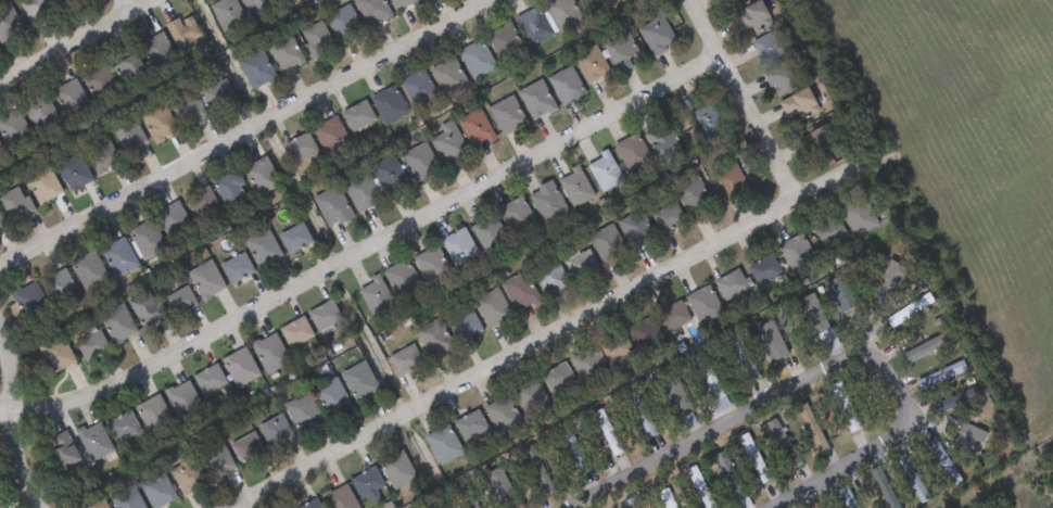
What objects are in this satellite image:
building: (620, 0)
building: (63, 2)
building: (284, 2)
building: (586, 2)
building: (739, 2)
building: (403, 3)
road: (130, 7)
building: (257, 7)
building: (37, 11)
building: (372, 11)
building: (563, 13)
building: (227, 14)
building: (754, 17)
building: (8, 24)
building: (344, 25)
building: (533, 26)
building: (657, 35)
building: (187, 37)
building: (316, 39)
building: (505, 41)
road: (79, 43)
building: (772, 47)
building: (157, 51)
building: (621, 52)
building: (284, 53)
building: (478, 60)
building: (592, 66)
building: (128, 67)
building: (256, 69)
building: (448, 76)
building: (785, 78)
building: (100, 84)
building: (566, 86)
building: (418, 89)
building: (218, 97)
building: (71, 99)
building: (536, 101)
road: (738, 102)
building: (389, 105)
building: (800, 107)
building: (188, 109)
building: (508, 115)
building: (43, 116)
building: (358, 117)
building: (707, 122)
building: (158, 124)
building: (13, 129)
building: (477, 130)
building: (329, 134)
building: (128, 135)
road: (246, 135)
building: (664, 142)
building: (821, 142)
building: (448, 143)
building: (1, 147)
building: (300, 148)
building: (100, 154)
building: (633, 155)
building: (420, 162)
building: (73, 170)
building: (604, 173)
building: (390, 176)
building: (261, 177)
building: (730, 181)
building: (42, 186)
building: (575, 188)
building: (231, 190)
building: (363, 193)
building: (693, 195)
building: (547, 203)
building: (15, 204)
building: (201, 204)
building: (332, 207)
building: (857, 216)
building: (517, 217)
building: (668, 218)
building: (174, 223)
building: (1, 225)
building: (636, 229)
building: (828, 231)
building: (489, 233)
building: (295, 239)
building: (147, 240)
building: (607, 244)
building: (458, 246)
building: (263, 250)
building: (796, 253)
road: (364, 254)
building: (118, 256)
building: (431, 265)
building: (581, 265)
building: (237, 268)
building: (764, 270)
building: (89, 271)
building: (550, 278)
building: (402, 279)
building: (205, 281)
building: (887, 283)
building: (732, 285)
building: (61, 288)
building: (520, 292)
building: (841, 296)
building: (376, 297)
building: (180, 301)
building: (30, 302)
building: (705, 304)
building: (492, 308)
building: (147, 309)
building: (910, 310)
building: (325, 316)
building: (673, 316)
building: (118, 325)
building: (465, 328)
building: (296, 333)
building: (644, 333)
building: (433, 339)
road: (551, 339)
building: (91, 345)
building: (928, 347)
building: (616, 348)
building: (270, 353)
building: (56, 354)
building: (790, 356)
building: (405, 360)
building: (745, 363)
building: (587, 366)
building: (240, 367)
road: (817, 372)
building: (941, 376)
building: (557, 379)
building: (210, 380)
building: (360, 382)
building: (712, 389)
building: (529, 396)
building: (675, 396)
building: (966, 397)
building: (332, 398)
building: (182, 399)
building: (944, 406)
building: (846, 409)
building: (303, 414)
building: (153, 415)
building: (502, 415)
road: (13, 423)
building: (123, 427)
building: (470, 427)
building: (607, 432)
building: (276, 433)
building: (969, 437)
building: (94, 442)
building: (782, 444)
building: (443, 445)
building: (246, 448)
building: (574, 450)
building: (64, 453)
building: (754, 458)
building: (216, 460)
building: (943, 463)
building: (397, 471)
building: (540, 475)
building: (187, 477)
building: (911, 479)
building: (368, 484)
building: (700, 487)
building: (884, 488)
building: (157, 491)
building: (502, 491)
building: (340, 498)
building: (846, 498)
building: (126, 499)
building: (665, 499)
building: (0, 504)
building: (630, 504)
building: (310, 505)
building: (98, 507)

